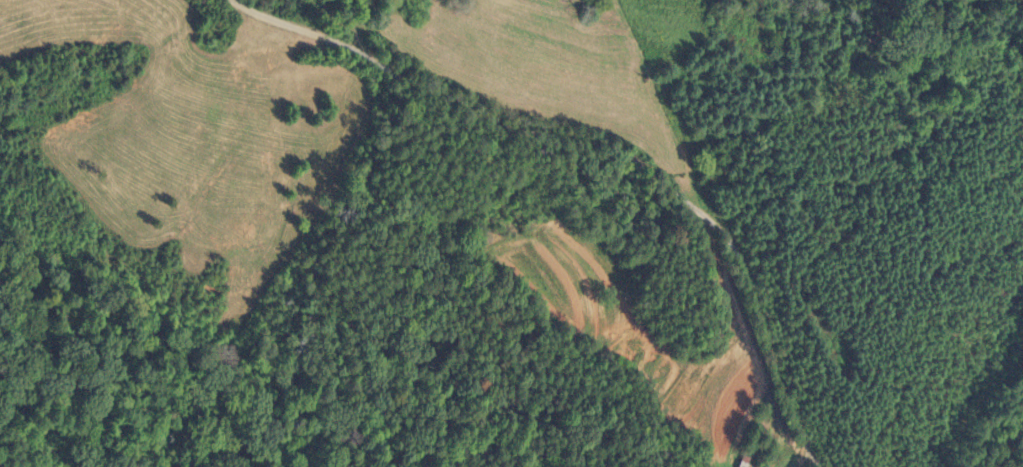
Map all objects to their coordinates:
road: (602, 147)
road: (803, 457)

